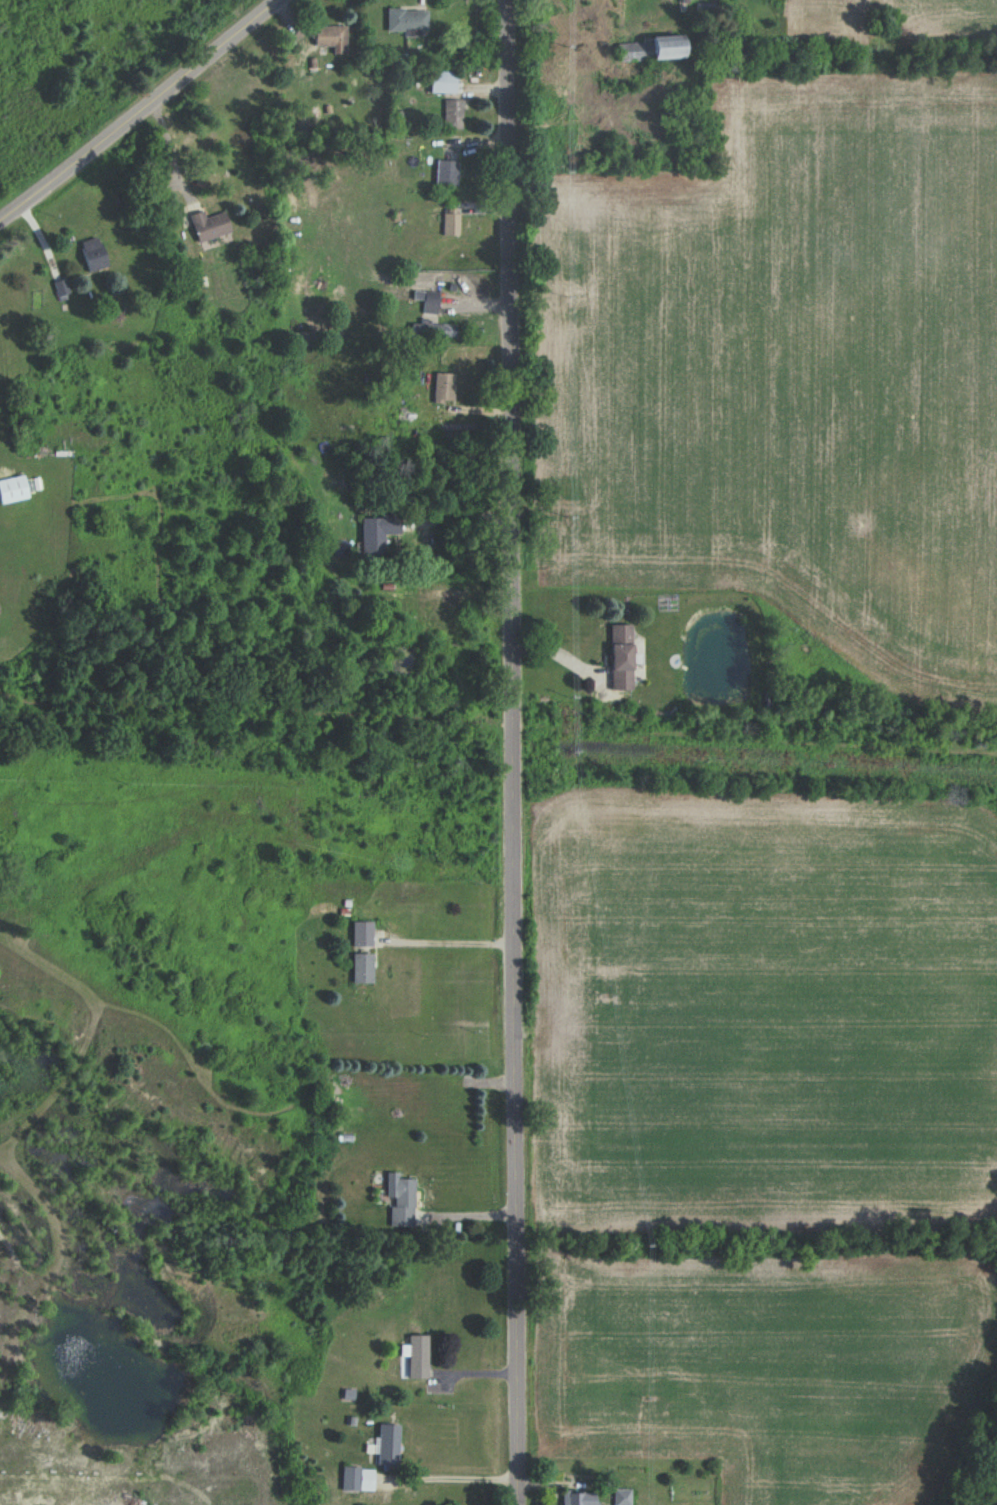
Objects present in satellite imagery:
building: (683, 1)
building: (406, 20)
building: (330, 38)
building: (665, 46)
building: (630, 49)
building: (440, 81)
building: (452, 111)
road: (143, 114)
road: (170, 158)
building: (445, 173)
building: (207, 225)
building: (91, 254)
building: (427, 301)
building: (433, 331)
building: (442, 388)
building: (12, 489)
road: (460, 512)
building: (376, 533)
building: (619, 656)
road: (515, 752)
building: (361, 933)
road: (448, 940)
building: (361, 967)
building: (401, 1201)
road: (468, 1216)
building: (416, 1356)
building: (386, 1444)
building: (357, 1478)
road: (460, 1478)
building: (620, 1496)
building: (577, 1498)

